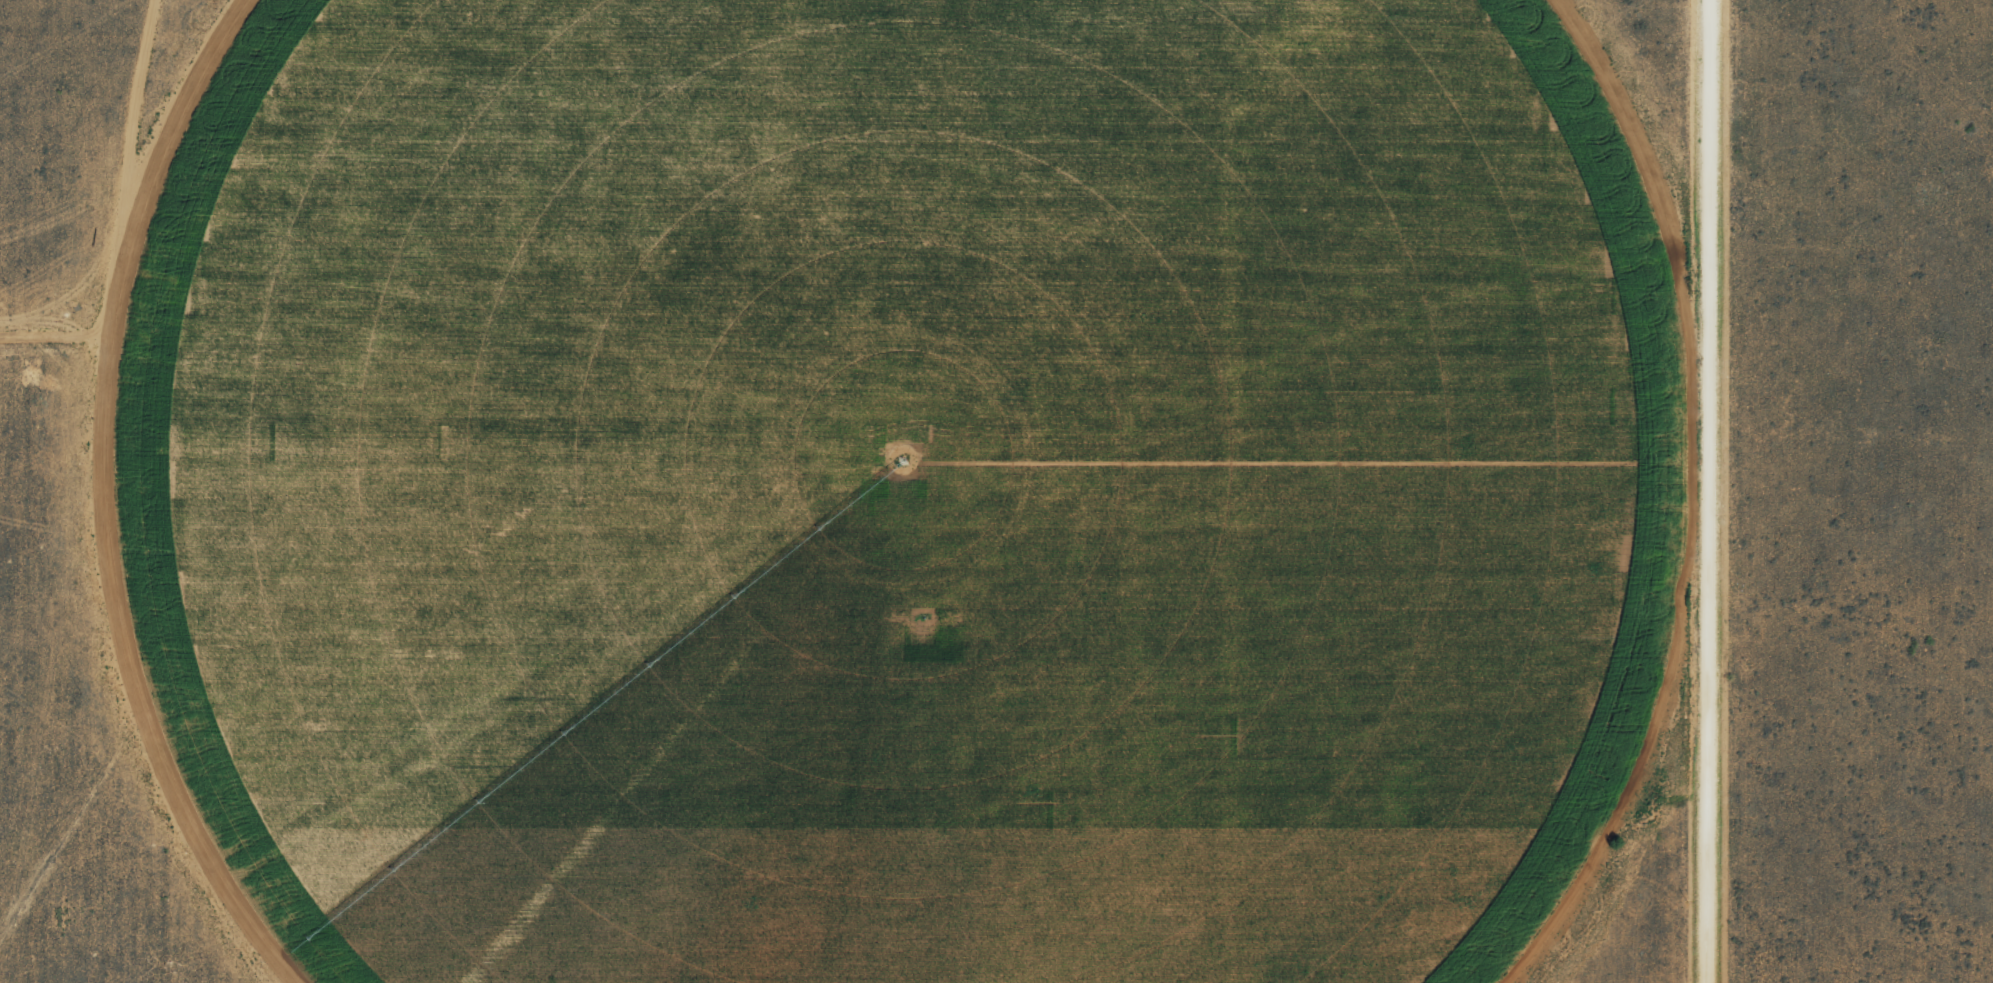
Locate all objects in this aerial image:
road: (1726, 491)

